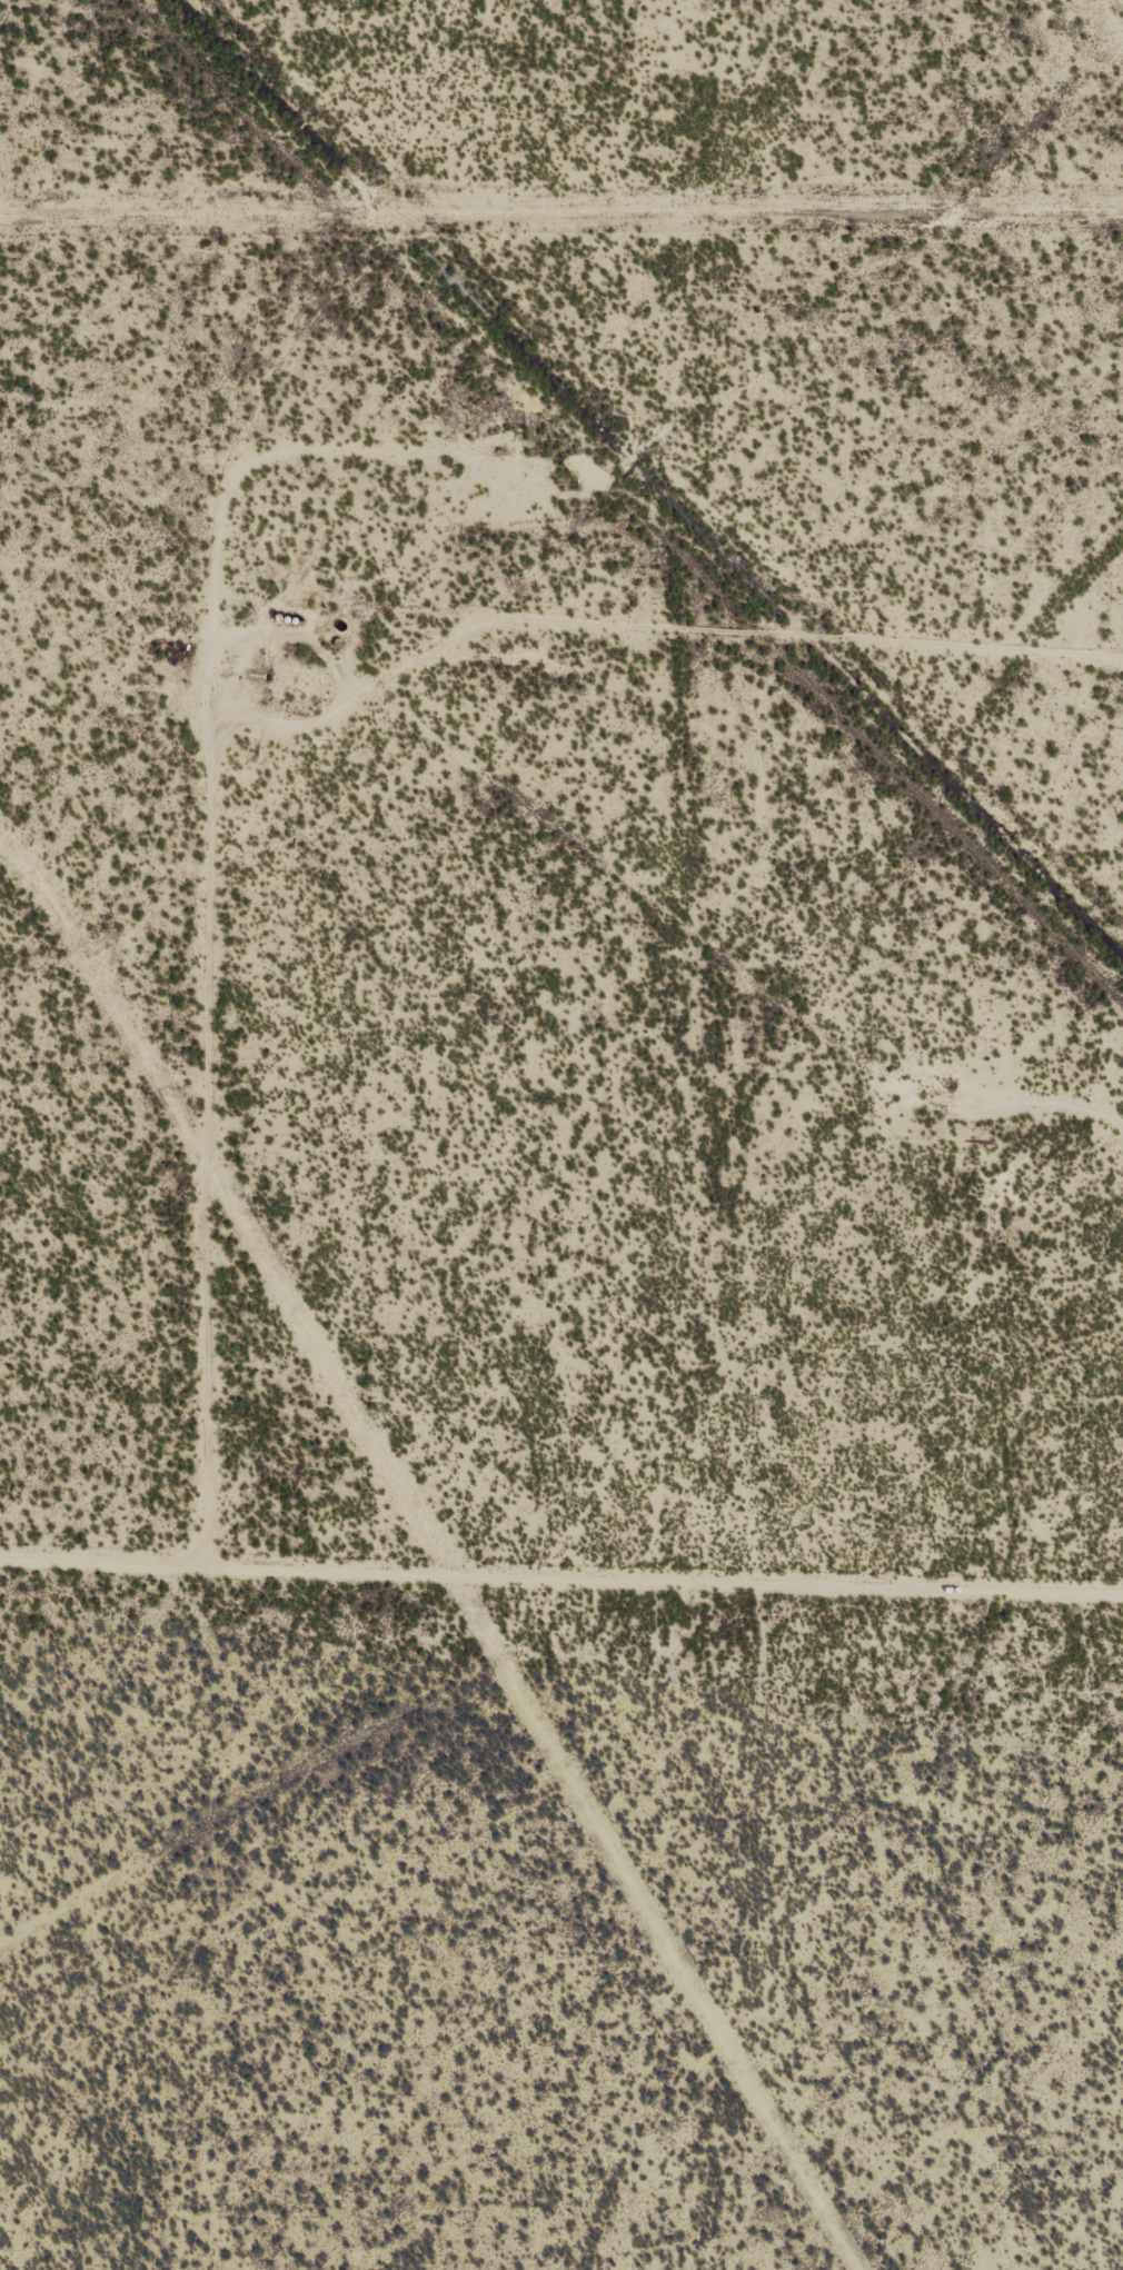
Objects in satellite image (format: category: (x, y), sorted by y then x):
road: (561, 1580)

